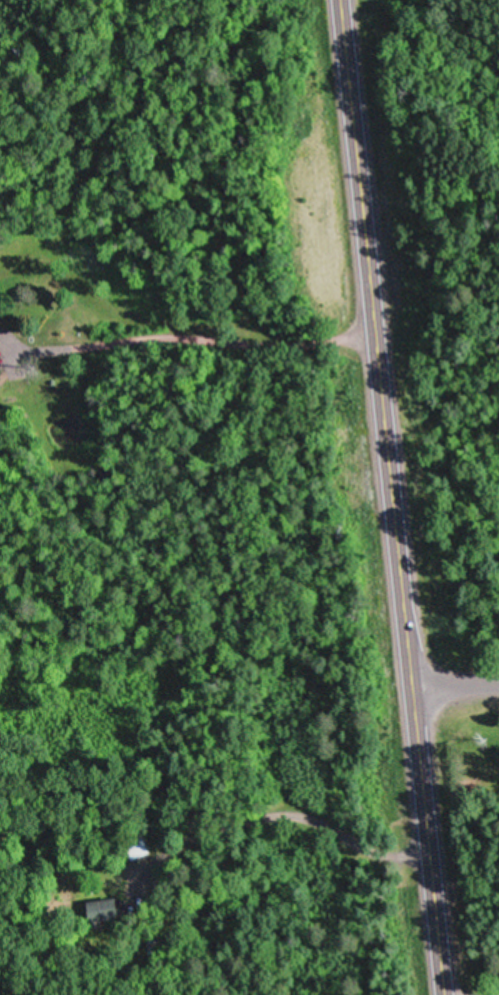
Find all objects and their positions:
building: (2, 329)
road: (393, 497)
road: (456, 687)
building: (142, 846)
building: (107, 907)

